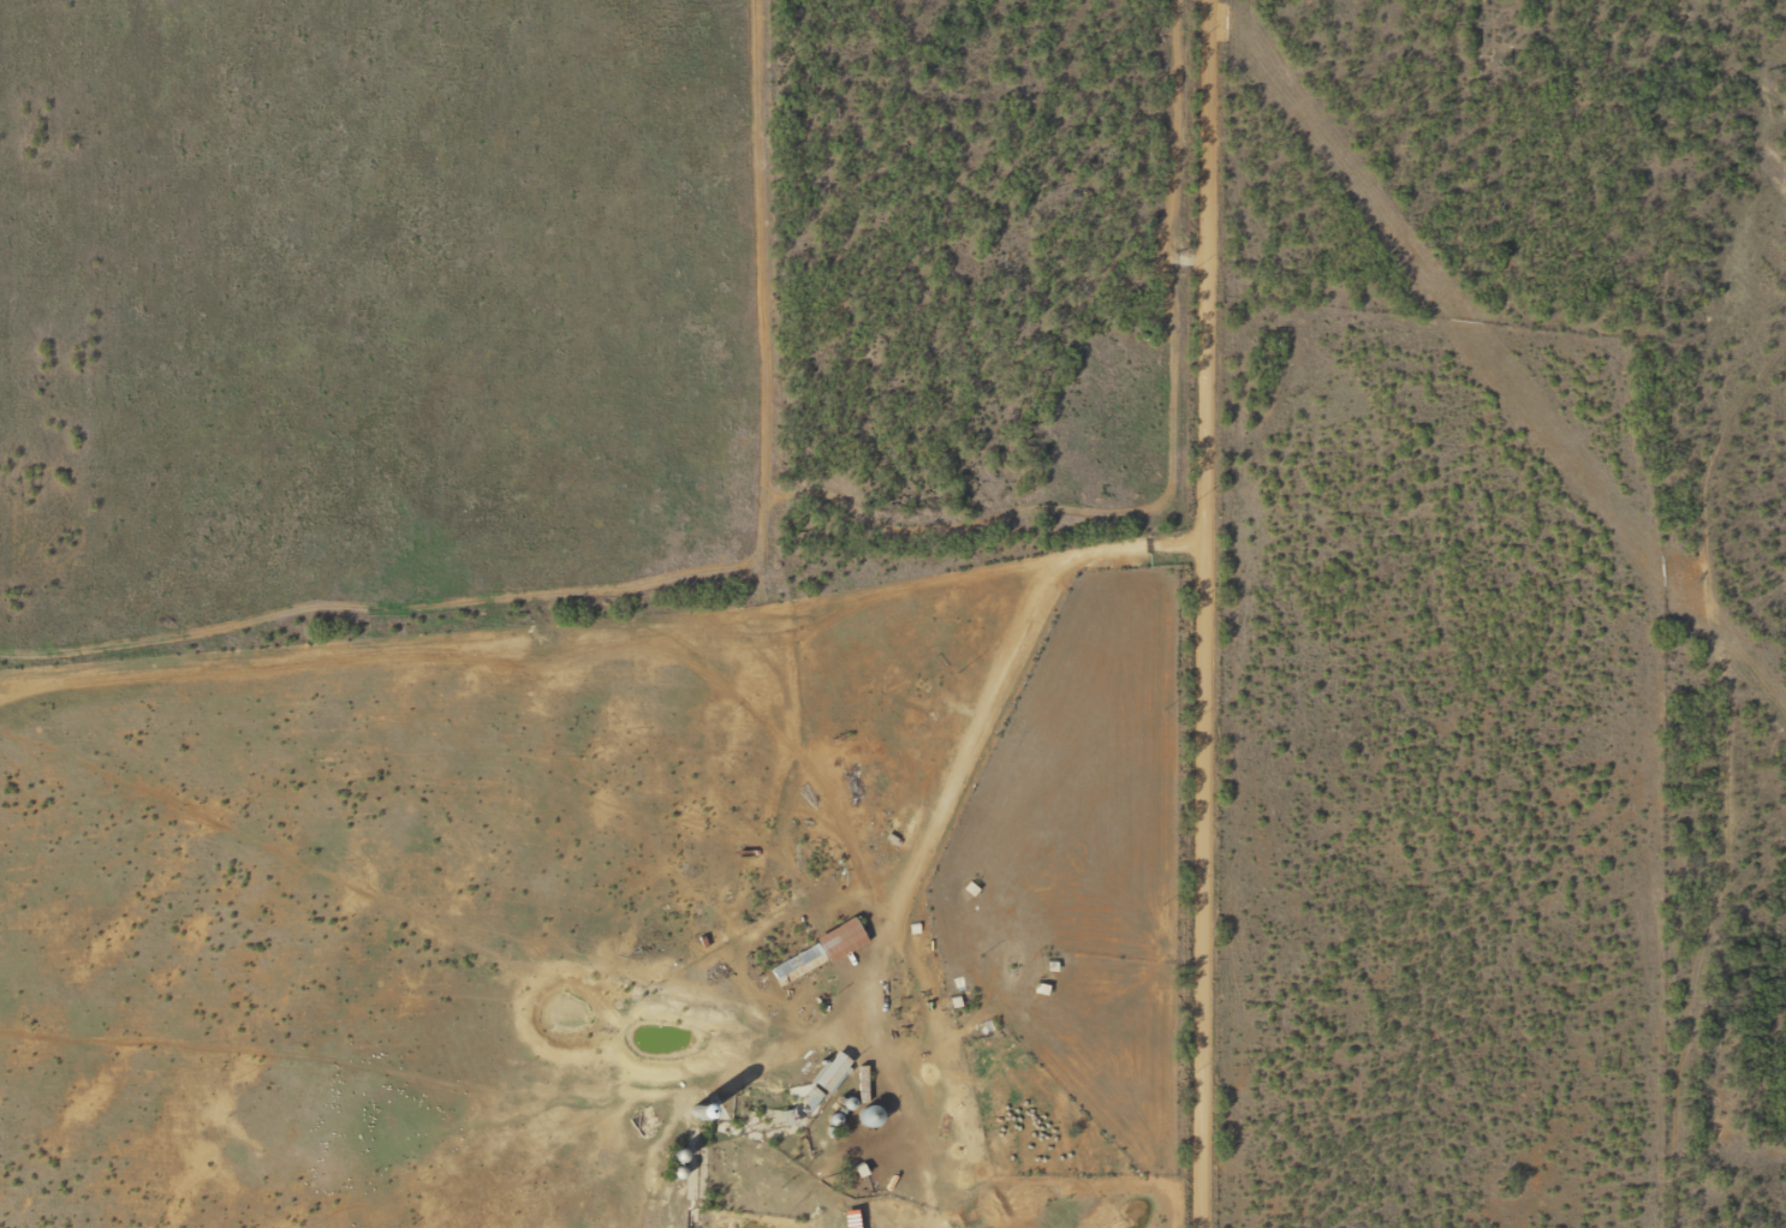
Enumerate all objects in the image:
road: (1207, 240)
road: (602, 600)
road: (1738, 603)
building: (941, 707)
building: (899, 819)
road: (1770, 854)
building: (881, 858)
building: (812, 953)
road: (1731, 1039)
building: (827, 1071)
building: (863, 1115)

